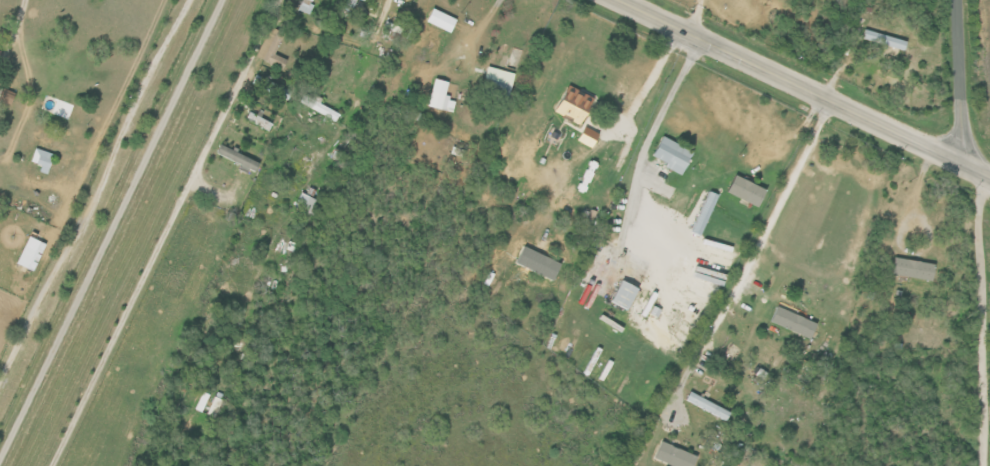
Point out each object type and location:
building: (357, 1)
building: (346, 5)
building: (302, 7)
road: (694, 17)
building: (438, 19)
road: (480, 20)
building: (883, 39)
building: (268, 50)
road: (108, 69)
road: (30, 72)
road: (958, 81)
road: (648, 82)
building: (269, 86)
building: (496, 89)
road: (803, 89)
building: (435, 95)
building: (5, 96)
building: (572, 107)
building: (63, 108)
building: (316, 110)
road: (659, 116)
building: (255, 122)
building: (584, 136)
building: (334, 156)
building: (668, 157)
building: (235, 159)
building: (42, 160)
road: (98, 190)
building: (743, 190)
building: (303, 205)
building: (702, 212)
building: (227, 218)
road: (111, 229)
road: (135, 232)
road: (164, 232)
road: (905, 234)
building: (28, 253)
building: (909, 270)
road: (740, 273)
building: (621, 296)
building: (653, 313)
road: (979, 320)
building: (793, 321)
building: (608, 325)
building: (579, 351)
building: (758, 373)
building: (636, 386)
building: (199, 403)
building: (212, 406)
building: (706, 407)
building: (672, 457)

